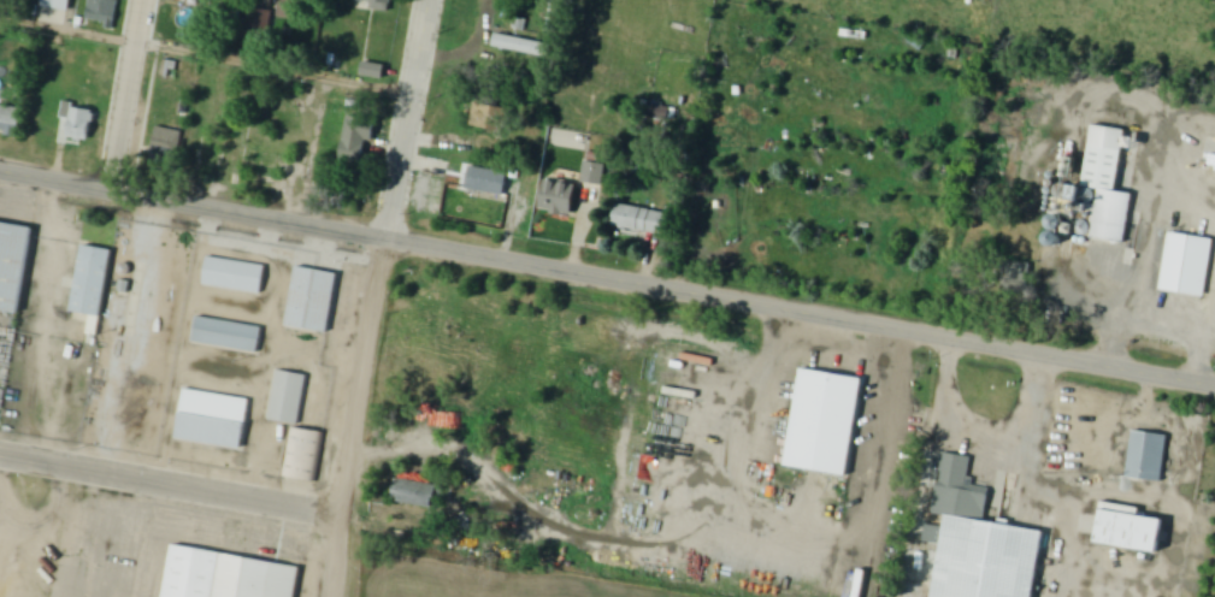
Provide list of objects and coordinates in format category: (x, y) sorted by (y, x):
building: (374, 5)
building: (291, 10)
building: (54, 11)
building: (101, 12)
building: (258, 24)
building: (523, 47)
road: (205, 58)
building: (279, 90)
road: (123, 94)
building: (202, 96)
building: (234, 105)
building: (276, 119)
building: (11, 122)
building: (81, 124)
building: (165, 146)
building: (270, 149)
building: (354, 152)
building: (206, 153)
building: (1105, 155)
building: (229, 158)
building: (322, 172)
building: (263, 173)
building: (592, 173)
building: (488, 183)
building: (560, 199)
building: (641, 221)
road: (1139, 250)
building: (13, 264)
building: (1187, 266)
building: (1016, 274)
building: (234, 276)
road: (607, 276)
building: (92, 282)
road: (373, 297)
building: (311, 298)
road: (135, 313)
road: (41, 320)
building: (225, 335)
road: (1210, 351)
road: (263, 394)
building: (287, 397)
building: (211, 419)
building: (825, 421)
road: (978, 445)
building: (301, 454)
building: (1146, 455)
road: (171, 485)
building: (418, 495)
building: (1128, 531)
building: (989, 561)
building: (226, 577)

